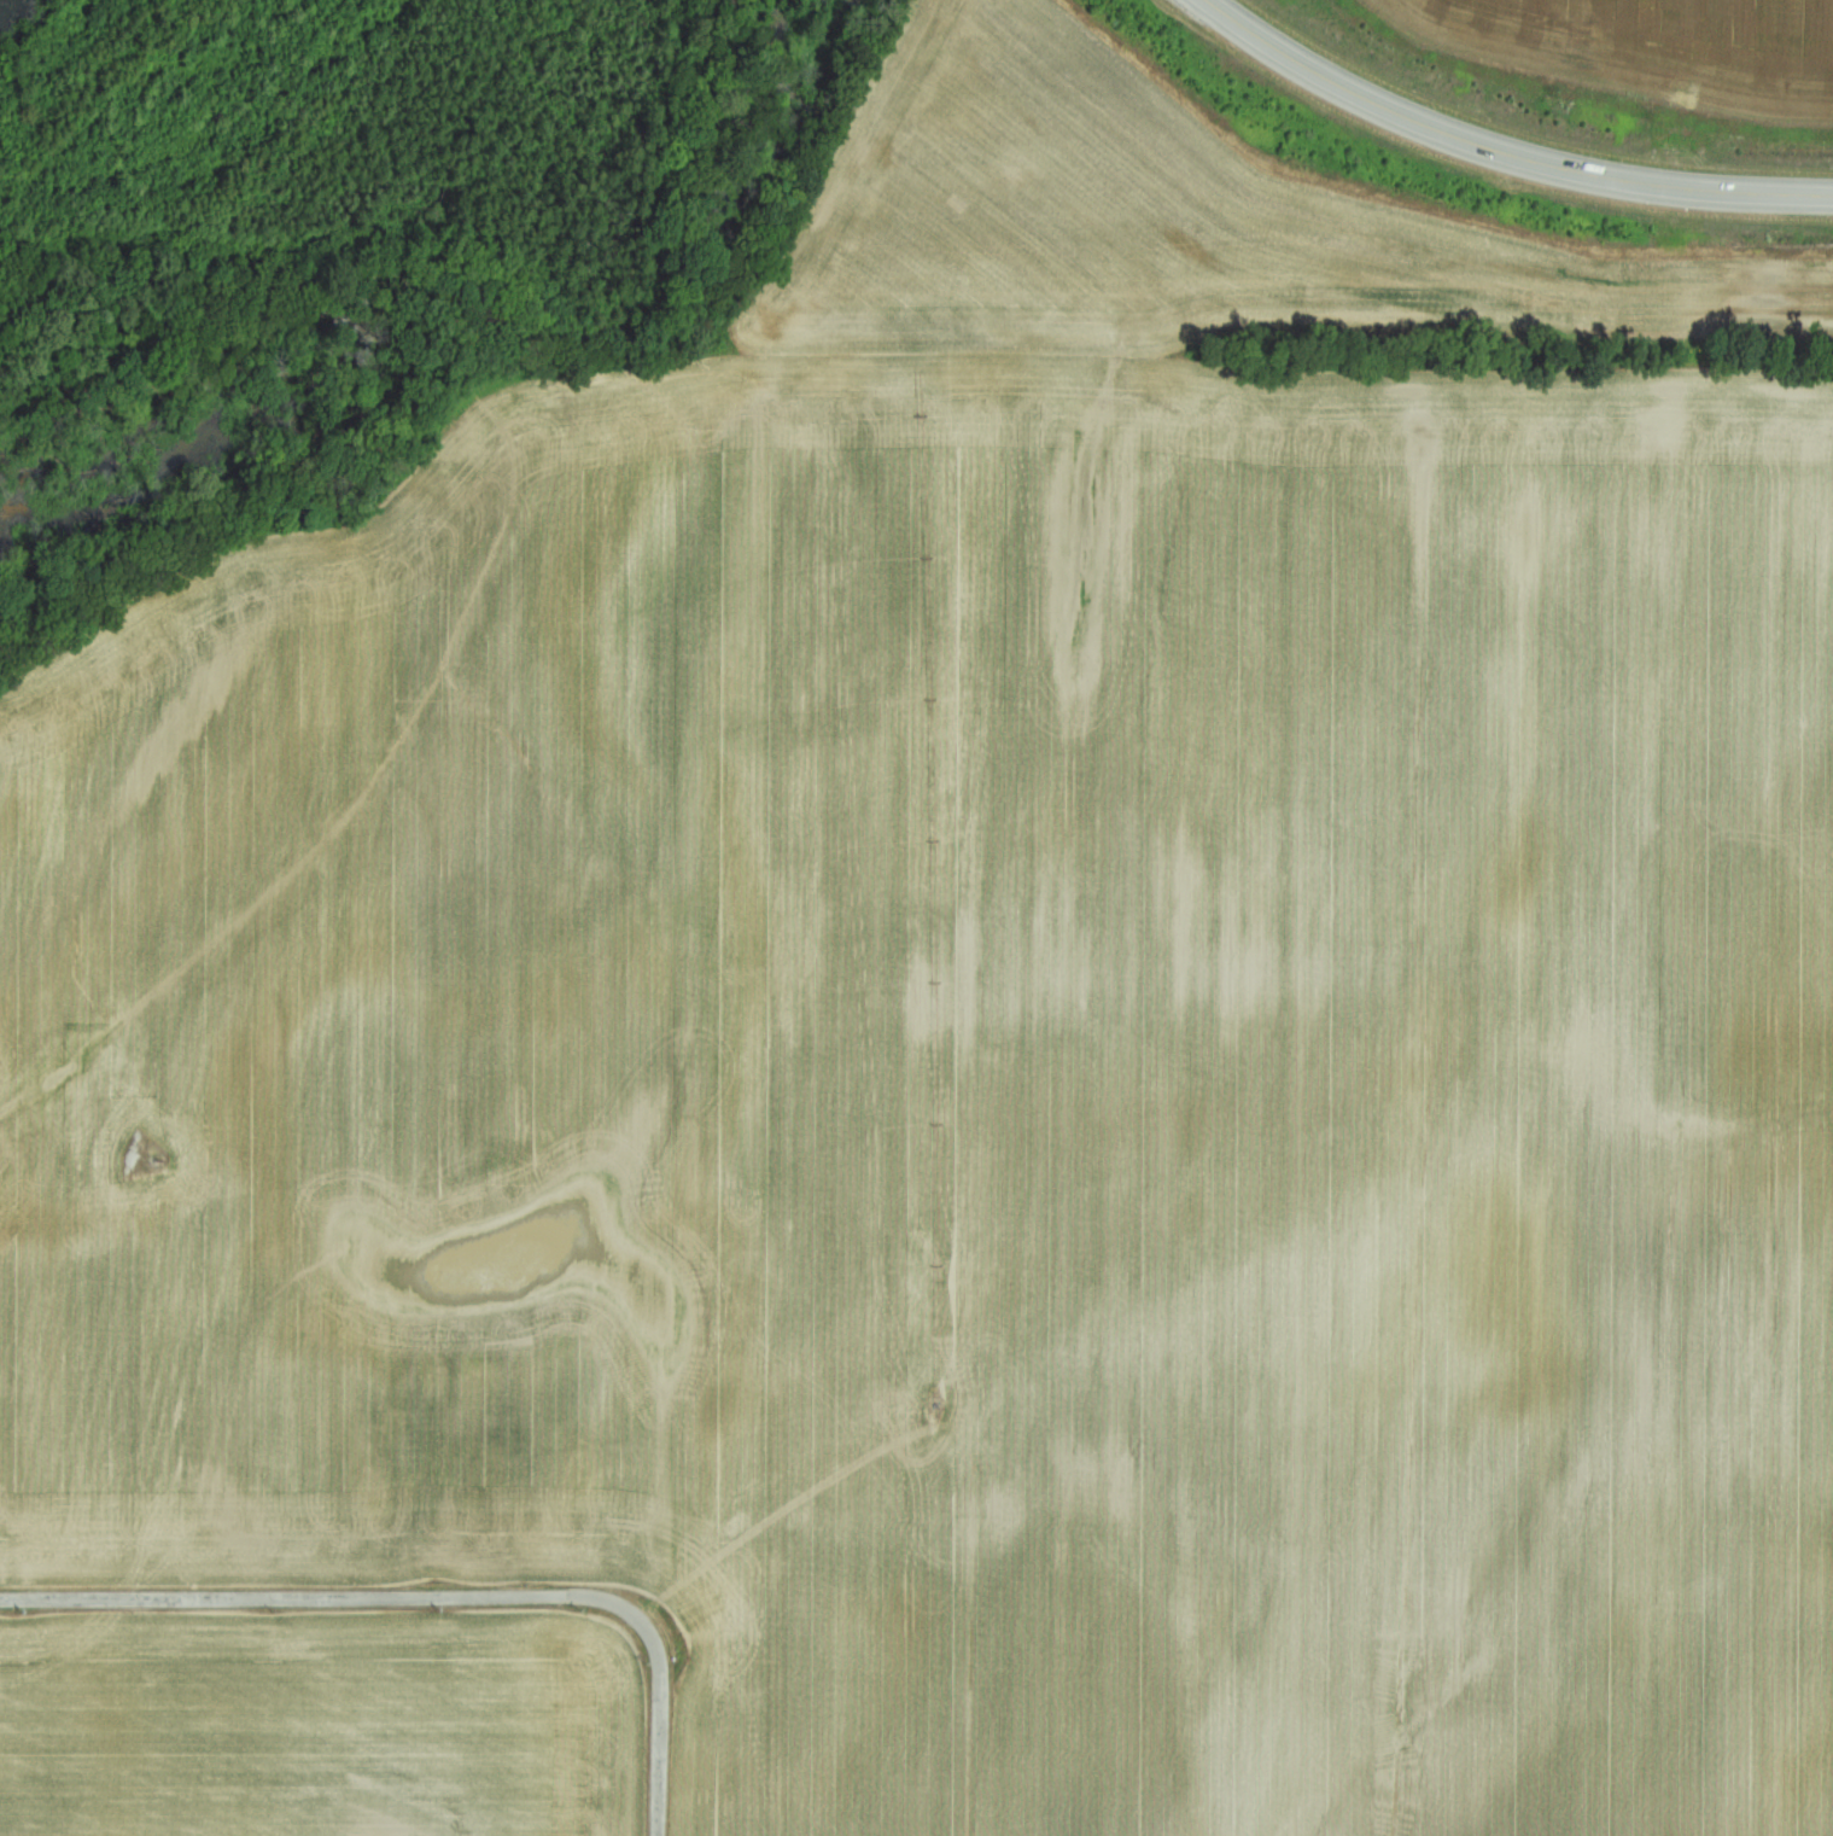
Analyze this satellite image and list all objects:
road: (1501, 152)
road: (433, 1593)

